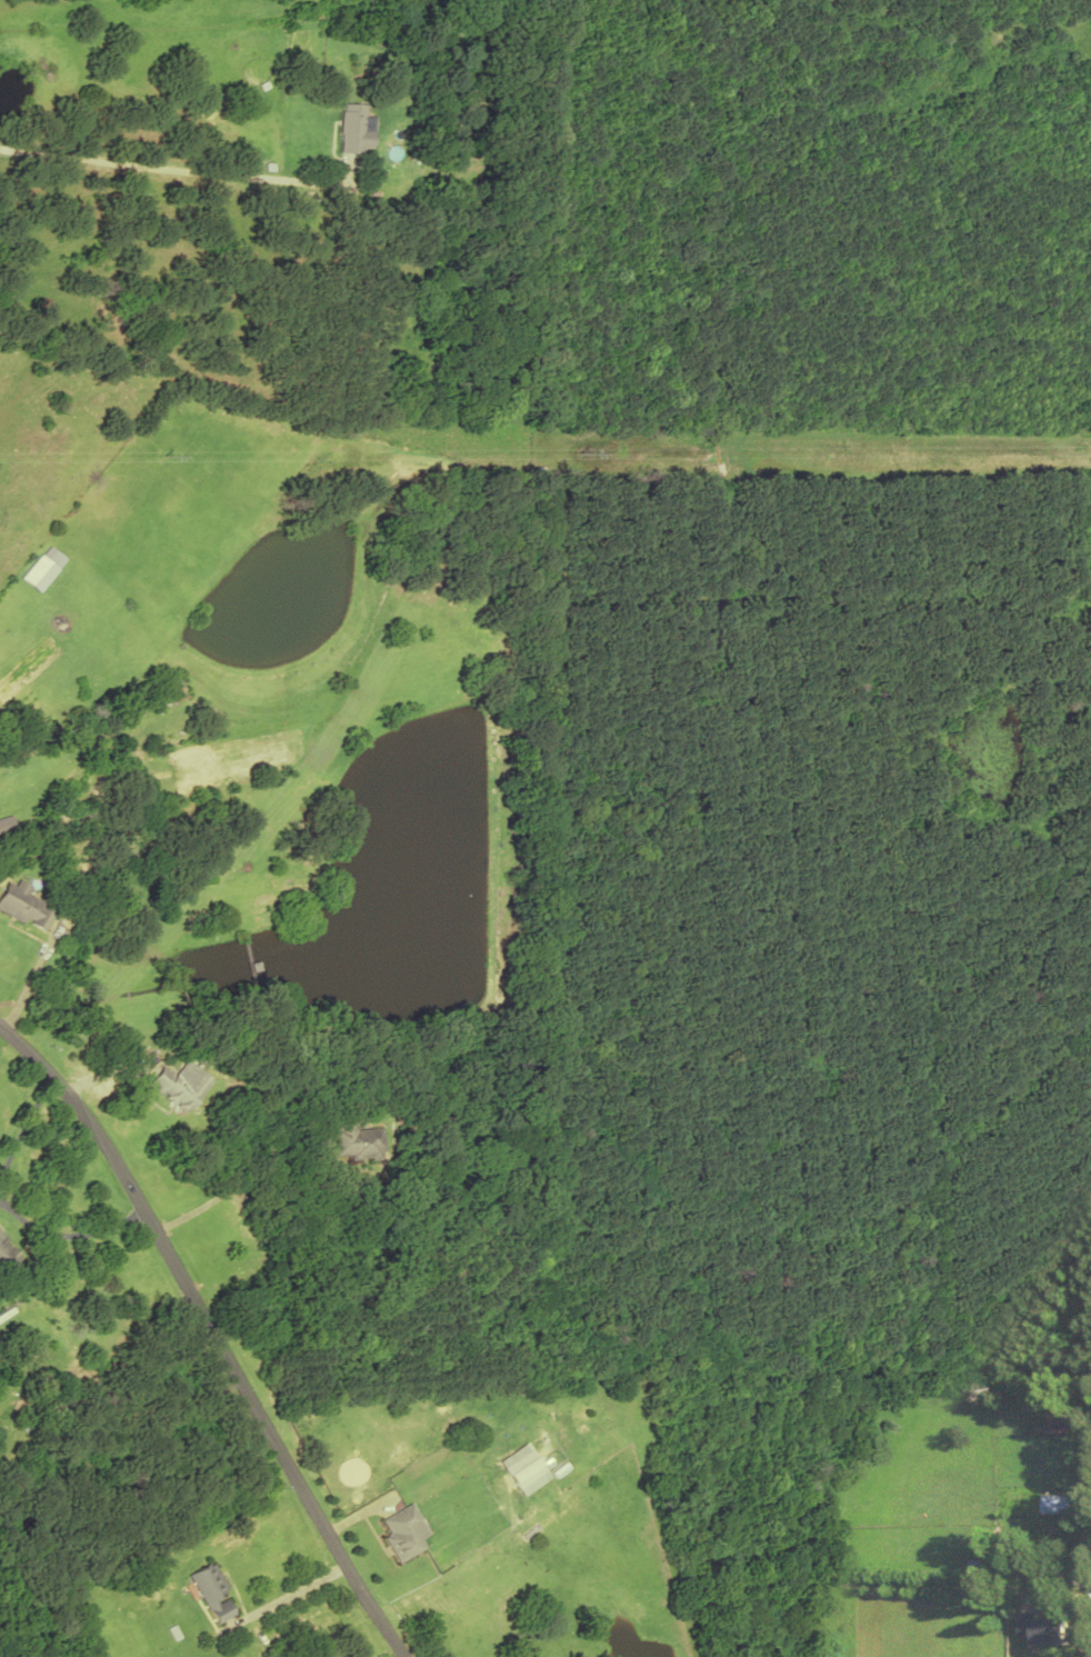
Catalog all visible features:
building: (352, 128)
building: (430, 174)
building: (42, 567)
building: (169, 689)
building: (134, 708)
building: (4, 823)
building: (23, 904)
building: (178, 1085)
building: (351, 1139)
building: (7, 1255)
road: (211, 1335)
building: (1059, 1417)
building: (521, 1468)
building: (1059, 1504)
building: (400, 1531)
building: (211, 1590)
building: (1047, 1630)

